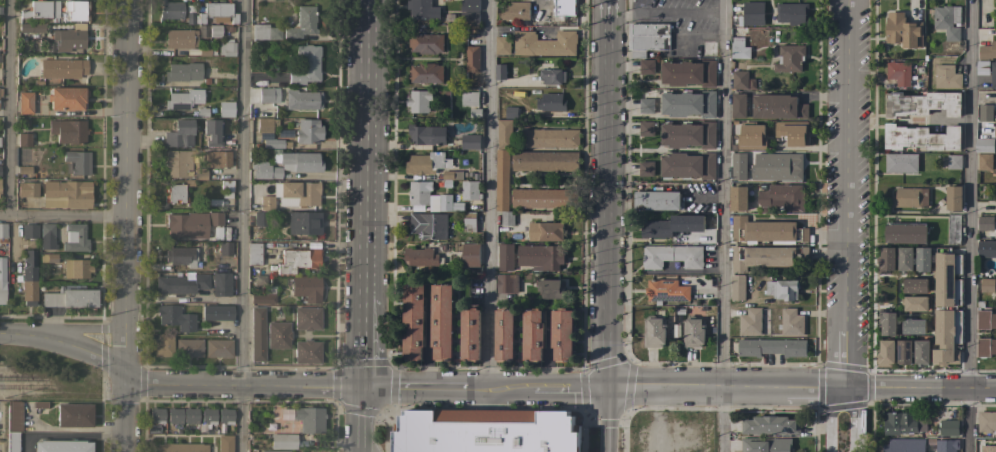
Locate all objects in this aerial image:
building: (470, 5)
building: (565, 7)
building: (41, 9)
building: (170, 9)
building: (422, 9)
building: (75, 10)
building: (217, 11)
building: (515, 11)
road: (665, 12)
building: (753, 13)
building: (792, 13)
building: (469, 19)
building: (947, 21)
building: (302, 22)
building: (31, 27)
building: (203, 30)
building: (215, 30)
building: (738, 31)
building: (903, 31)
building: (265, 32)
building: (180, 38)
building: (647, 38)
building: (67, 39)
building: (425, 43)
building: (544, 44)
building: (502, 45)
building: (986, 45)
building: (227, 47)
building: (709, 48)
building: (738, 49)
building: (789, 58)
building: (472, 60)
building: (306, 64)
building: (646, 66)
building: (255, 67)
building: (60, 68)
building: (982, 68)
building: (183, 71)
building: (500, 72)
building: (898, 72)
building: (425, 73)
building: (688, 73)
building: (993, 75)
building: (552, 76)
building: (946, 77)
building: (739, 80)
building: (0, 92)
building: (267, 94)
building: (68, 98)
building: (469, 98)
building: (183, 99)
building: (302, 99)
building: (419, 101)
building: (24, 102)
building: (551, 102)
building: (688, 103)
building: (922, 104)
building: (646, 106)
building: (738, 106)
road: (7, 107)
building: (777, 107)
building: (225, 108)
building: (511, 112)
building: (984, 112)
building: (265, 124)
building: (646, 128)
building: (68, 130)
building: (213, 131)
building: (307, 131)
building: (180, 133)
building: (792, 133)
building: (503, 134)
building: (426, 135)
building: (688, 135)
building: (751, 136)
building: (921, 137)
building: (549, 138)
building: (24, 139)
building: (470, 142)
building: (275, 143)
road: (368, 146)
building: (983, 146)
building: (217, 158)
building: (78, 161)
building: (297, 161)
building: (545, 161)
building: (177, 162)
building: (954, 162)
building: (984, 162)
building: (426, 163)
building: (901, 163)
building: (737, 164)
building: (688, 166)
building: (789, 167)
building: (646, 168)
building: (264, 170)
building: (200, 173)
building: (451, 177)
building: (227, 185)
road: (126, 188)
building: (502, 188)
building: (28, 189)
building: (470, 190)
building: (300, 192)
building: (66, 193)
building: (176, 193)
building: (418, 193)
road: (487, 194)
road: (606, 195)
road: (847, 195)
building: (911, 197)
building: (544, 198)
building: (738, 198)
building: (782, 198)
building: (953, 198)
building: (657, 200)
building: (266, 202)
building: (445, 202)
road: (63, 215)
building: (215, 218)
building: (261, 218)
building: (469, 221)
building: (303, 222)
building: (985, 222)
building: (187, 225)
road: (240, 226)
building: (429, 226)
road: (722, 226)
road: (966, 226)
building: (3, 229)
building: (657, 229)
building: (953, 229)
building: (766, 230)
building: (29, 231)
building: (545, 232)
building: (905, 233)
building: (47, 235)
building: (75, 237)
building: (225, 248)
building: (985, 249)
building: (253, 252)
building: (181, 255)
building: (470, 255)
building: (505, 256)
building: (672, 256)
building: (766, 256)
building: (48, 257)
building: (421, 257)
building: (540, 257)
building: (904, 259)
building: (922, 259)
building: (298, 260)
building: (885, 260)
building: (76, 268)
building: (29, 277)
building: (258, 279)
building: (943, 279)
building: (2, 280)
building: (181, 283)
building: (221, 283)
building: (506, 283)
building: (914, 285)
building: (987, 285)
building: (306, 288)
building: (737, 288)
building: (782, 289)
building: (551, 290)
building: (666, 291)
building: (265, 295)
building: (70, 298)
building: (915, 303)
building: (217, 311)
building: (176, 317)
building: (307, 318)
building: (985, 320)
building: (413, 321)
building: (442, 322)
building: (750, 322)
building: (790, 322)
building: (887, 324)
building: (912, 326)
road: (78, 327)
building: (653, 332)
building: (692, 332)
building: (257, 334)
building: (278, 334)
building: (532, 334)
building: (562, 334)
building: (470, 335)
building: (504, 335)
road: (17, 336)
road: (366, 339)
building: (164, 344)
building: (189, 347)
building: (218, 347)
building: (771, 347)
building: (986, 347)
road: (81, 349)
building: (307, 351)
building: (885, 352)
building: (903, 352)
building: (920, 352)
railway: (24, 378)
road: (243, 385)
railway: (26, 386)
traffic signals: (366, 387)
road: (486, 388)
traffic signals: (606, 390)
road: (726, 390)
road: (921, 391)
road: (486, 400)
building: (73, 414)
road: (121, 414)
building: (156, 415)
building: (174, 415)
building: (190, 415)
building: (208, 415)
building: (225, 415)
road: (829, 418)
building: (309, 419)
road: (365, 419)
road: (606, 421)
road: (850, 421)
building: (986, 421)
building: (901, 423)
building: (13, 425)
building: (770, 425)
building: (948, 428)
building: (486, 434)
building: (283, 441)
building: (224, 443)
building: (765, 444)
building: (904, 445)
building: (946, 445)
building: (985, 445)
building: (61, 446)
building: (181, 447)
building: (274, 450)
road: (829, 451)

